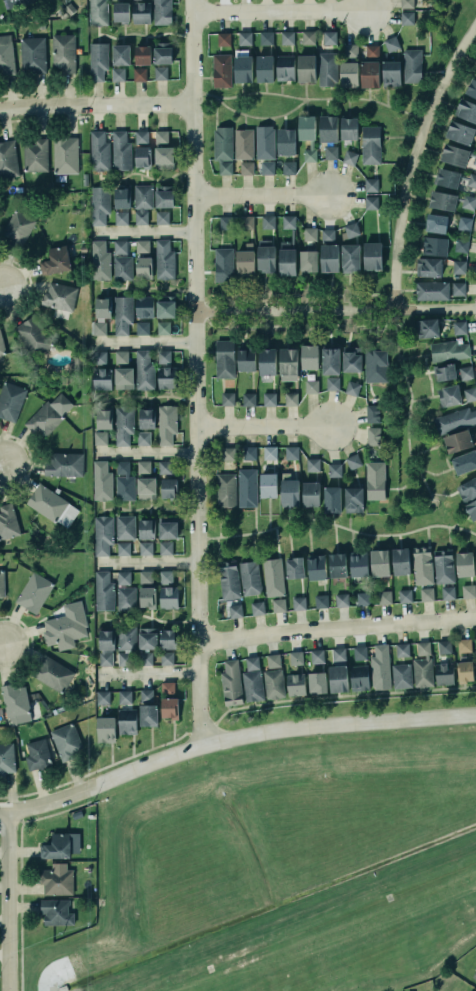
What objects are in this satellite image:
building: (13, 3)
building: (406, 4)
building: (120, 10)
road: (278, 11)
building: (97, 12)
building: (141, 12)
building: (162, 12)
building: (406, 18)
road: (143, 36)
building: (222, 37)
building: (243, 37)
building: (308, 37)
building: (329, 37)
building: (266, 38)
building: (287, 38)
building: (391, 44)
building: (350, 51)
building: (371, 51)
building: (63, 53)
building: (119, 53)
building: (141, 53)
building: (163, 53)
building: (6, 55)
building: (32, 55)
building: (98, 61)
building: (241, 64)
building: (263, 66)
building: (283, 66)
building: (305, 66)
building: (412, 66)
building: (220, 69)
building: (327, 69)
building: (389, 71)
building: (116, 73)
building: (138, 73)
building: (160, 73)
building: (348, 74)
building: (370, 74)
building: (471, 86)
road: (310, 99)
road: (96, 104)
building: (466, 110)
road: (262, 119)
building: (326, 126)
building: (306, 127)
building: (348, 128)
building: (460, 133)
building: (141, 137)
building: (161, 137)
building: (286, 141)
building: (264, 142)
building: (222, 143)
building: (243, 144)
building: (370, 145)
building: (120, 149)
building: (99, 151)
building: (329, 151)
building: (456, 153)
building: (35, 155)
building: (66, 155)
building: (309, 155)
building: (142, 157)
building: (164, 157)
building: (349, 157)
road: (413, 158)
building: (8, 160)
building: (224, 167)
building: (246, 168)
building: (267, 168)
building: (288, 168)
building: (446, 175)
road: (145, 177)
building: (472, 181)
building: (371, 185)
building: (162, 194)
road: (260, 196)
building: (121, 198)
building: (141, 201)
building: (443, 201)
building: (468, 202)
building: (98, 203)
building: (371, 203)
building: (160, 216)
building: (120, 218)
building: (435, 221)
building: (225, 222)
building: (246, 222)
building: (268, 222)
building: (464, 223)
building: (18, 228)
building: (350, 230)
road: (140, 233)
building: (310, 234)
building: (326, 234)
building: (141, 245)
building: (461, 245)
building: (286, 246)
building: (435, 246)
building: (265, 256)
building: (328, 256)
building: (372, 256)
building: (54, 258)
building: (163, 258)
building: (350, 258)
building: (99, 259)
building: (308, 259)
building: (120, 260)
building: (243, 260)
building: (222, 263)
building: (142, 265)
building: (427, 265)
building: (459, 266)
road: (147, 289)
building: (458, 289)
building: (432, 291)
road: (326, 295)
road: (373, 295)
building: (58, 296)
road: (223, 296)
road: (284, 296)
road: (310, 300)
road: (351, 300)
road: (268, 301)
building: (144, 307)
building: (165, 307)
building: (103, 308)
road: (335, 310)
road: (264, 311)
road: (306, 311)
road: (348, 311)
building: (122, 314)
road: (387, 318)
road: (285, 326)
road: (327, 326)
building: (426, 326)
building: (163, 327)
road: (224, 327)
building: (459, 327)
building: (99, 328)
building: (141, 328)
road: (311, 330)
road: (353, 330)
road: (269, 331)
building: (33, 337)
road: (142, 342)
building: (1, 345)
building: (308, 355)
building: (121, 357)
building: (163, 357)
building: (245, 357)
building: (448, 357)
building: (99, 358)
building: (225, 359)
building: (265, 359)
building: (286, 359)
building: (350, 360)
building: (330, 361)
building: (376, 366)
building: (144, 370)
road: (194, 373)
building: (466, 373)
building: (101, 377)
building: (123, 378)
building: (166, 378)
building: (332, 384)
building: (311, 386)
building: (351, 387)
building: (470, 394)
building: (449, 395)
road: (409, 396)
building: (247, 398)
building: (268, 398)
road: (149, 399)
building: (227, 399)
building: (291, 399)
building: (10, 401)
building: (372, 413)
building: (48, 415)
building: (104, 419)
building: (146, 419)
building: (454, 419)
building: (123, 424)
building: (166, 424)
road: (261, 427)
building: (475, 433)
building: (373, 436)
building: (100, 438)
building: (143, 438)
building: (457, 439)
building: (268, 451)
building: (249, 453)
building: (291, 453)
road: (143, 454)
building: (228, 454)
building: (352, 460)
building: (464, 460)
building: (63, 464)
building: (313, 464)
building: (143, 467)
building: (164, 467)
road: (0, 468)
building: (334, 470)
building: (374, 479)
building: (101, 481)
building: (124, 482)
building: (267, 484)
building: (168, 487)
building: (146, 488)
building: (247, 488)
building: (225, 490)
building: (288, 491)
building: (309, 492)
building: (352, 498)
building: (332, 500)
building: (51, 506)
building: (471, 507)
road: (148, 508)
building: (8, 521)
road: (336, 526)
building: (125, 527)
building: (146, 529)
building: (167, 530)
building: (102, 535)
building: (145, 548)
building: (165, 548)
building: (123, 549)
building: (475, 554)
building: (378, 560)
building: (400, 561)
road: (144, 564)
building: (358, 564)
building: (464, 564)
building: (337, 565)
building: (422, 565)
building: (293, 566)
building: (443, 567)
building: (316, 568)
building: (248, 576)
building: (145, 577)
building: (166, 577)
building: (273, 577)
building: (123, 578)
building: (228, 580)
building: (1, 582)
building: (103, 591)
building: (468, 591)
building: (34, 592)
building: (447, 593)
building: (426, 594)
building: (383, 596)
building: (404, 596)
building: (147, 597)
building: (168, 597)
building: (362, 597)
building: (126, 598)
building: (341, 600)
building: (320, 601)
building: (298, 603)
building: (278, 605)
building: (256, 606)
building: (235, 611)
road: (148, 618)
building: (65, 627)
road: (335, 628)
building: (146, 637)
building: (167, 637)
building: (126, 638)
road: (1, 645)
building: (464, 645)
building: (444, 647)
building: (106, 648)
building: (423, 648)
building: (402, 650)
building: (359, 653)
building: (338, 654)
building: (294, 656)
building: (317, 656)
building: (145, 658)
building: (166, 658)
building: (124, 659)
building: (272, 659)
building: (475, 665)
building: (379, 667)
building: (465, 671)
building: (422, 672)
building: (53, 674)
building: (443, 674)
building: (401, 676)
road: (145, 677)
building: (359, 678)
building: (338, 679)
building: (252, 680)
building: (272, 682)
building: (231, 683)
building: (317, 683)
building: (294, 684)
building: (168, 688)
building: (102, 697)
building: (125, 697)
road: (329, 697)
building: (14, 701)
building: (146, 707)
building: (169, 708)
road: (367, 708)
building: (0, 714)
building: (126, 720)
building: (105, 729)
road: (233, 739)
building: (65, 740)
building: (35, 752)
building: (6, 757)
building: (55, 845)
building: (57, 880)
road: (7, 901)
building: (56, 912)
building: (474, 975)

